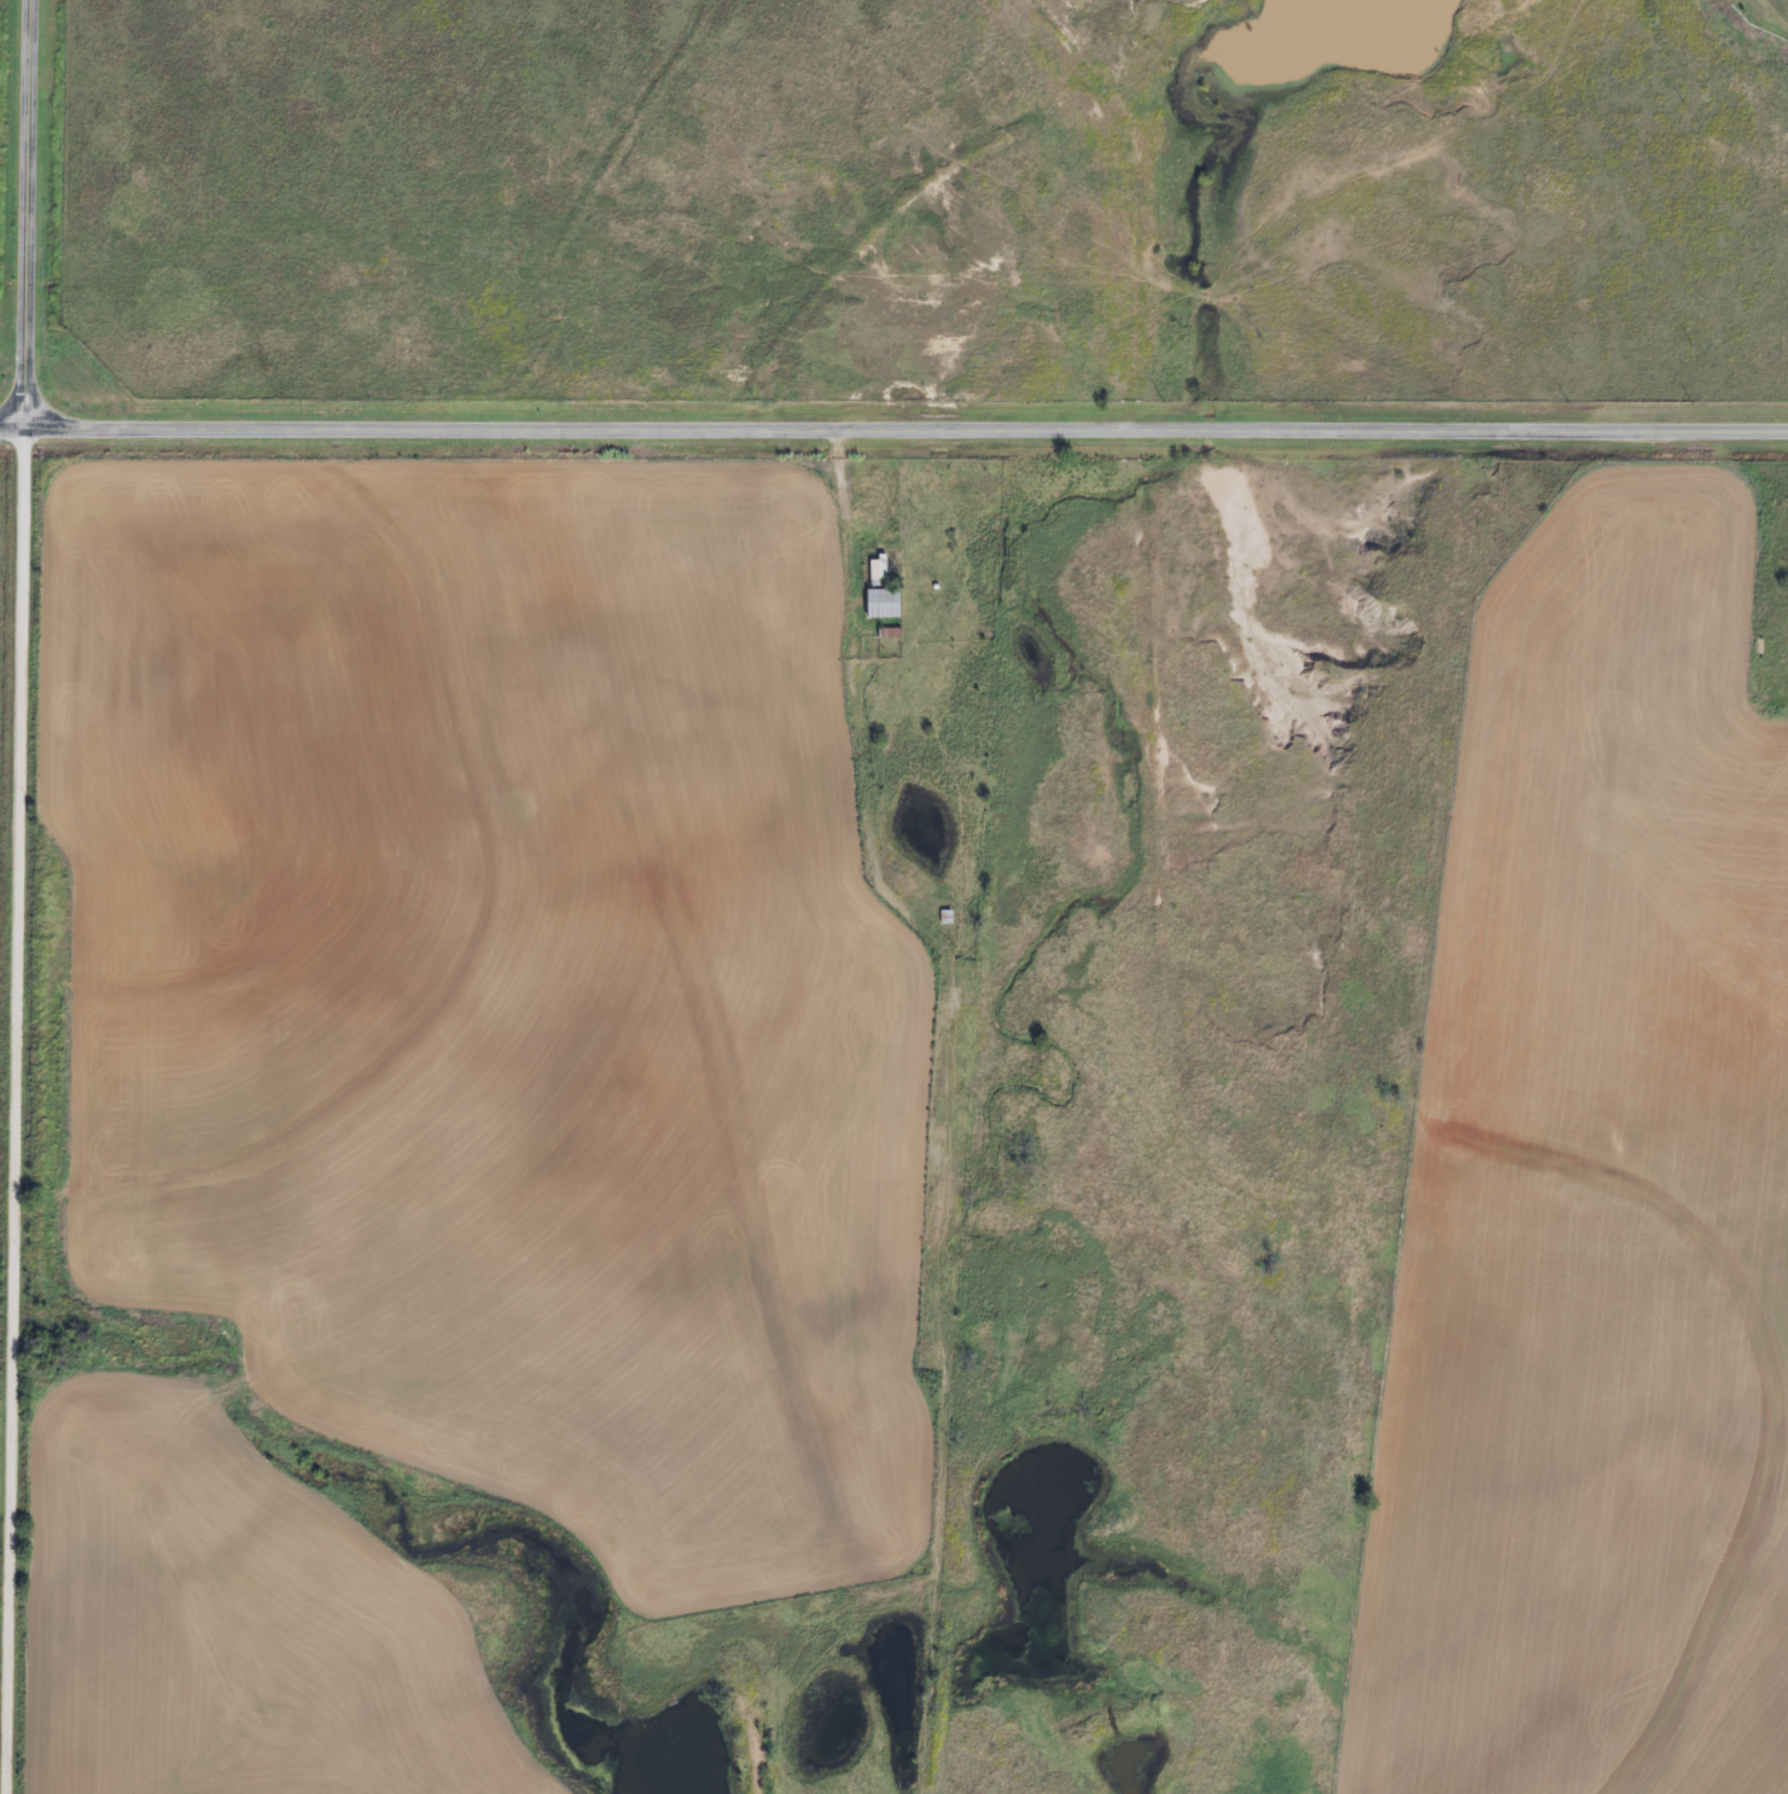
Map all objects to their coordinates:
road: (23, 215)
road: (11, 430)
road: (905, 431)
building: (876, 570)
building: (876, 604)
road: (21, 1112)

